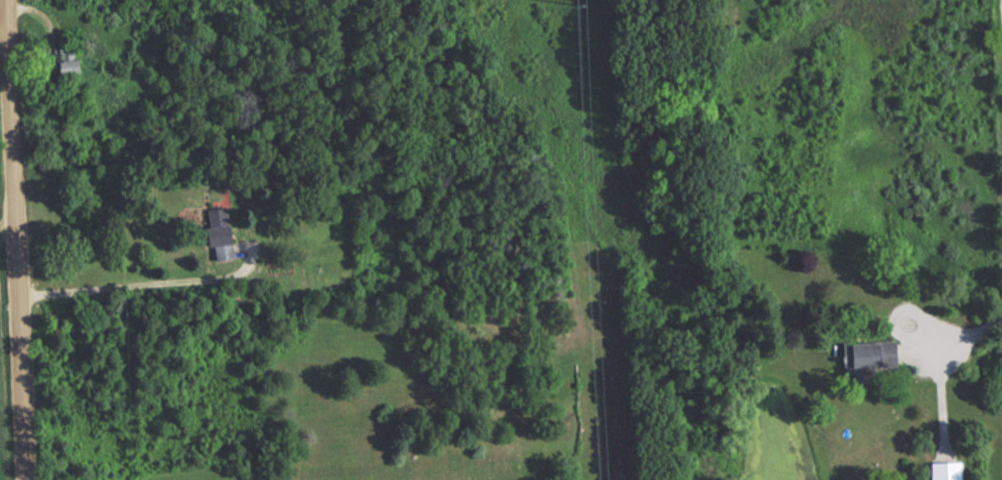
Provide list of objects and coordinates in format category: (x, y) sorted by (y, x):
power tower: (578, 5)
building: (62, 68)
building: (215, 233)
road: (17, 239)
road: (142, 279)
road: (957, 335)
building: (870, 351)

